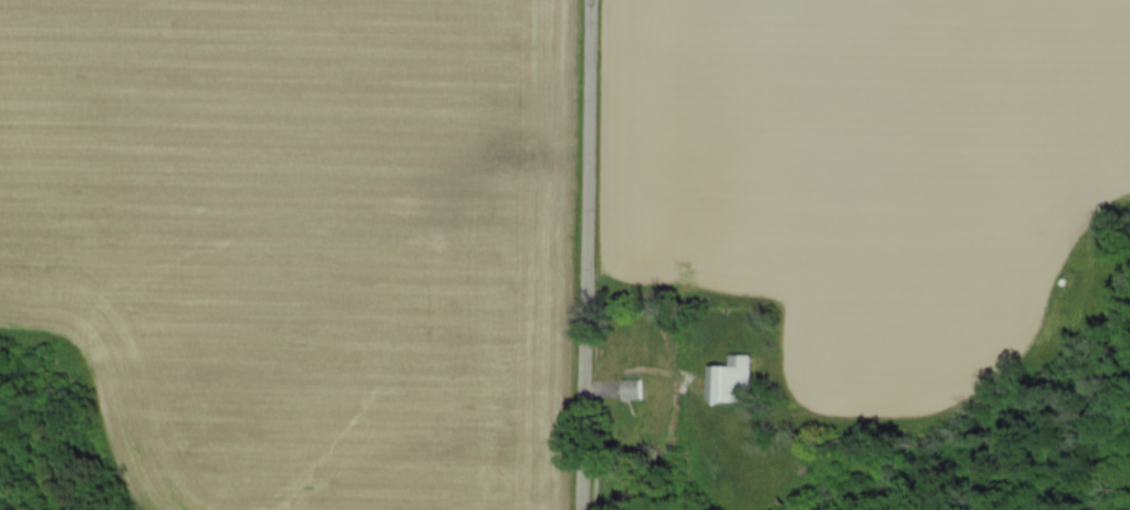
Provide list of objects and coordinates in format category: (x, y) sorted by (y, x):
road: (590, 254)

